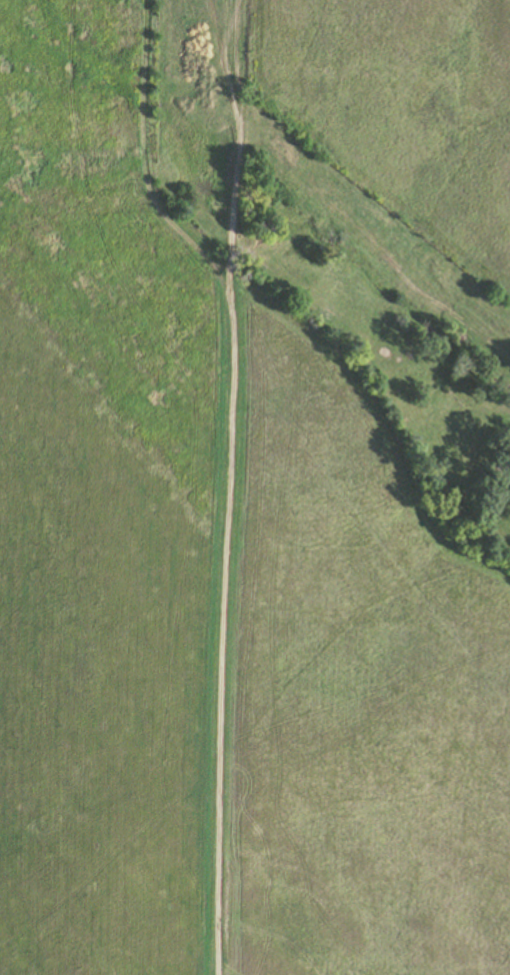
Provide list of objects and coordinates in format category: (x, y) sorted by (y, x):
road: (223, 487)

